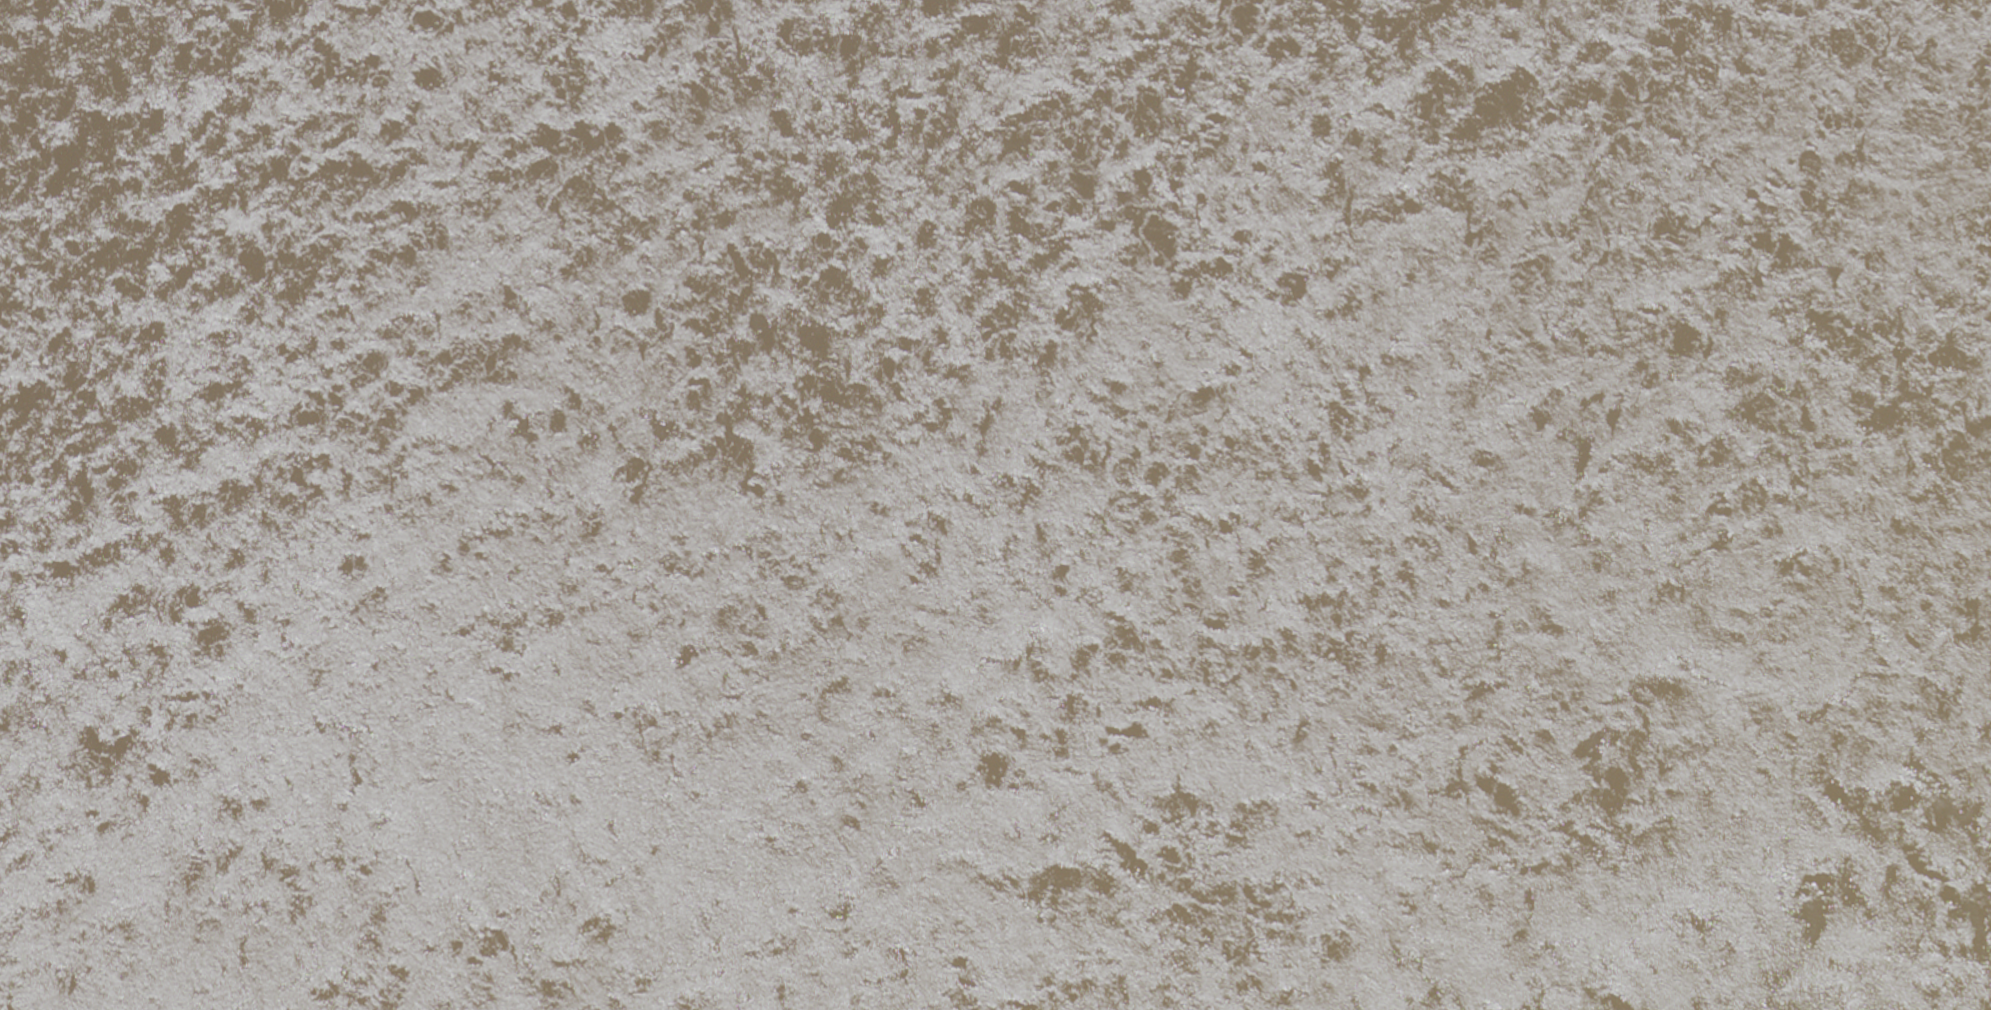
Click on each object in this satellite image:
river: (917, 546)
river: (1153, 822)

